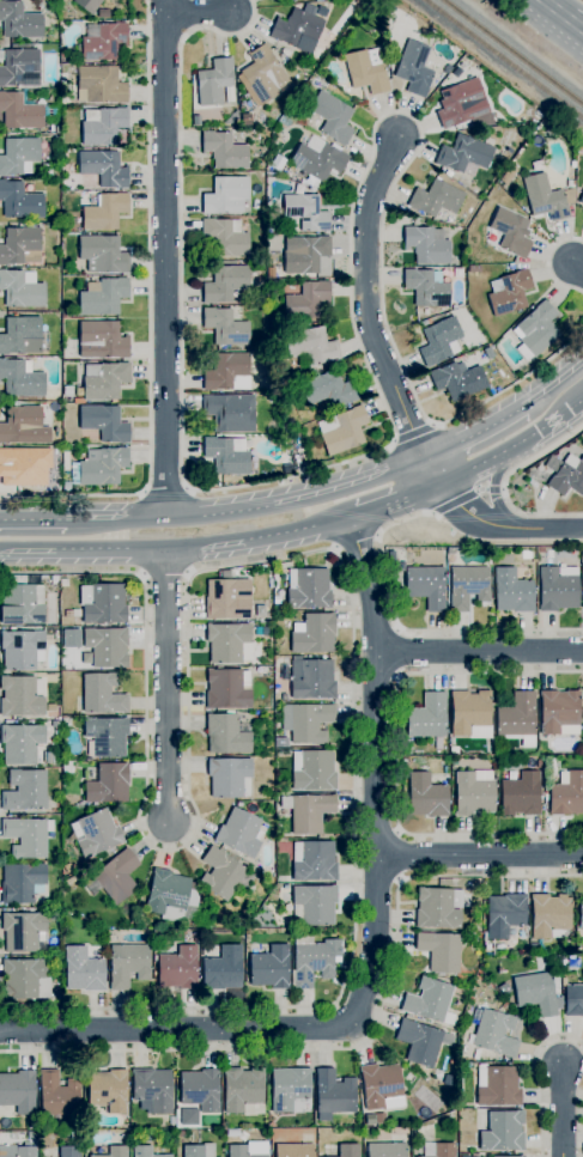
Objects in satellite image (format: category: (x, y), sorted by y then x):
road: (147, 0)
building: (290, 0)
building: (318, 0)
building: (87, 5)
road: (552, 12)
building: (103, 13)
road: (199, 13)
building: (19, 20)
building: (296, 28)
road: (576, 29)
building: (103, 41)
road: (164, 49)
railway: (512, 53)
building: (1, 55)
railway: (504, 59)
building: (18, 66)
building: (414, 68)
building: (447, 69)
building: (366, 71)
building: (263, 74)
building: (213, 81)
building: (99, 85)
building: (461, 103)
building: (49, 111)
building: (19, 112)
building: (330, 118)
building: (102, 126)
building: (224, 151)
building: (464, 154)
building: (19, 156)
building: (317, 159)
building: (103, 168)
building: (448, 173)
building: (508, 173)
building: (279, 175)
building: (570, 184)
building: (225, 195)
building: (547, 197)
building: (436, 199)
building: (581, 199)
building: (20, 201)
building: (103, 211)
building: (305, 212)
building: (55, 215)
building: (73, 220)
building: (510, 232)
building: (225, 237)
building: (426, 245)
building: (20, 246)
building: (304, 254)
building: (103, 255)
road: (165, 260)
road: (548, 263)
building: (510, 267)
road: (577, 268)
building: (271, 273)
building: (457, 273)
building: (225, 285)
building: (426, 287)
building: (22, 288)
building: (508, 293)
building: (102, 297)
road: (368, 299)
building: (305, 302)
road: (150, 318)
building: (425, 322)
building: (225, 328)
building: (535, 330)
building: (20, 335)
building: (102, 340)
building: (439, 341)
building: (311, 346)
building: (224, 371)
building: (20, 378)
building: (104, 380)
building: (457, 380)
road: (553, 382)
road: (377, 388)
building: (326, 390)
road: (560, 404)
building: (230, 413)
building: (104, 422)
building: (24, 426)
building: (341, 431)
road: (475, 433)
road: (515, 445)
building: (226, 456)
building: (103, 465)
building: (24, 467)
building: (287, 468)
building: (565, 475)
road: (505, 482)
road: (352, 485)
building: (66, 486)
road: (493, 488)
road: (166, 489)
road: (395, 499)
road: (220, 513)
road: (32, 519)
road: (116, 519)
road: (491, 522)
road: (296, 530)
road: (205, 543)
road: (358, 543)
road: (110, 548)
road: (28, 549)
building: (539, 549)
building: (548, 553)
road: (294, 555)
building: (390, 558)
building: (582, 581)
building: (425, 585)
building: (308, 587)
building: (468, 587)
building: (557, 589)
building: (511, 591)
building: (227, 598)
building: (103, 603)
building: (22, 604)
road: (409, 629)
building: (312, 634)
building: (229, 643)
building: (107, 646)
building: (22, 648)
road: (479, 651)
building: (311, 678)
road: (168, 684)
building: (227, 688)
building: (102, 694)
building: (20, 696)
building: (582, 696)
building: (50, 707)
building: (469, 712)
building: (558, 713)
building: (427, 715)
building: (516, 715)
building: (306, 721)
building: (226, 735)
building: (107, 736)
building: (281, 742)
building: (20, 743)
building: (454, 750)
road: (396, 754)
building: (48, 759)
building: (405, 760)
building: (540, 763)
building: (67, 767)
building: (312, 769)
building: (227, 777)
building: (108, 784)
building: (24, 791)
building: (566, 793)
building: (473, 794)
building: (521, 794)
building: (426, 796)
building: (308, 811)
building: (96, 833)
building: (238, 833)
building: (26, 836)
road: (480, 855)
building: (314, 860)
building: (220, 873)
building: (117, 876)
building: (20, 882)
building: (168, 894)
building: (286, 896)
building: (314, 905)
building: (438, 908)
building: (581, 913)
building: (505, 915)
building: (551, 915)
building: (23, 931)
road: (372, 946)
building: (533, 946)
building: (441, 950)
building: (311, 961)
building: (128, 964)
building: (271, 967)
building: (177, 968)
building: (84, 969)
building: (223, 969)
building: (25, 979)
building: (536, 993)
building: (573, 1000)
building: (430, 1001)
building: (494, 1034)
building: (419, 1042)
road: (359, 1047)
road: (534, 1076)
building: (379, 1084)
building: (497, 1085)
building: (290, 1089)
building: (108, 1090)
building: (152, 1090)
building: (200, 1090)
building: (18, 1091)
building: (243, 1091)
building: (57, 1095)
building: (333, 1095)
road: (564, 1112)
building: (379, 1118)
building: (31, 1125)
building: (503, 1131)
building: (31, 1134)
building: (74, 1137)
building: (462, 1147)
building: (199, 1150)
building: (294, 1150)
building: (347, 1150)
building: (385, 1150)
building: (438, 1150)
building: (24, 1151)
building: (69, 1151)
building: (146, 1151)
building: (241, 1151)
building: (114, 1152)
building: (509, 1156)

